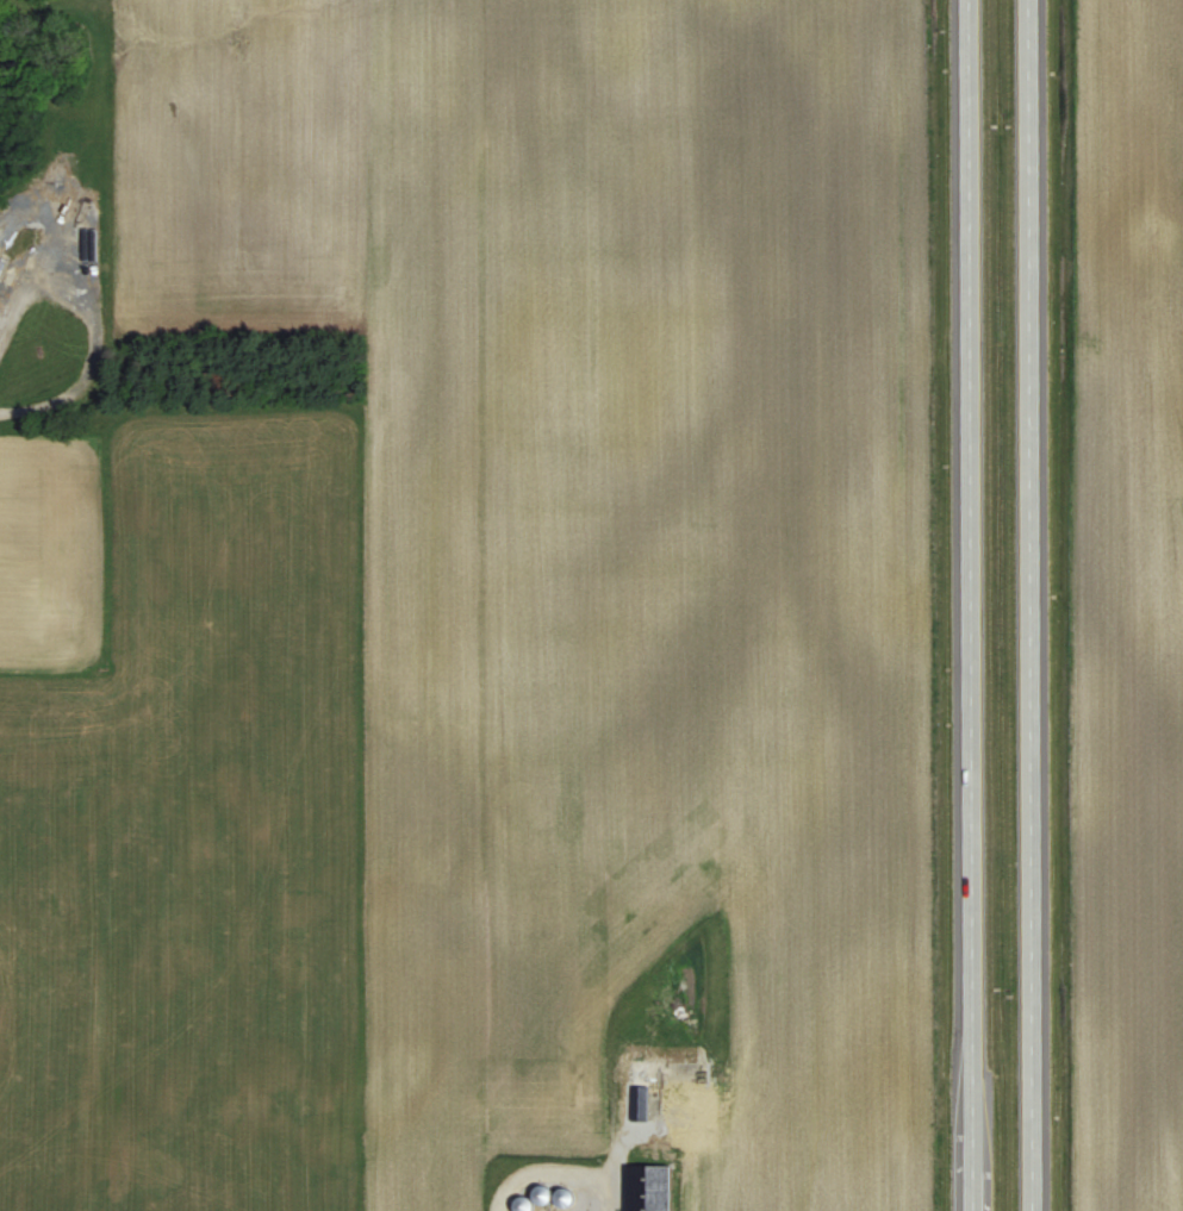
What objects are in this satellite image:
building: (1, 263)
road: (967, 605)
road: (1031, 605)
building: (639, 1090)
building: (648, 1187)
building: (564, 1196)
road: (604, 1197)
building: (534, 1198)

